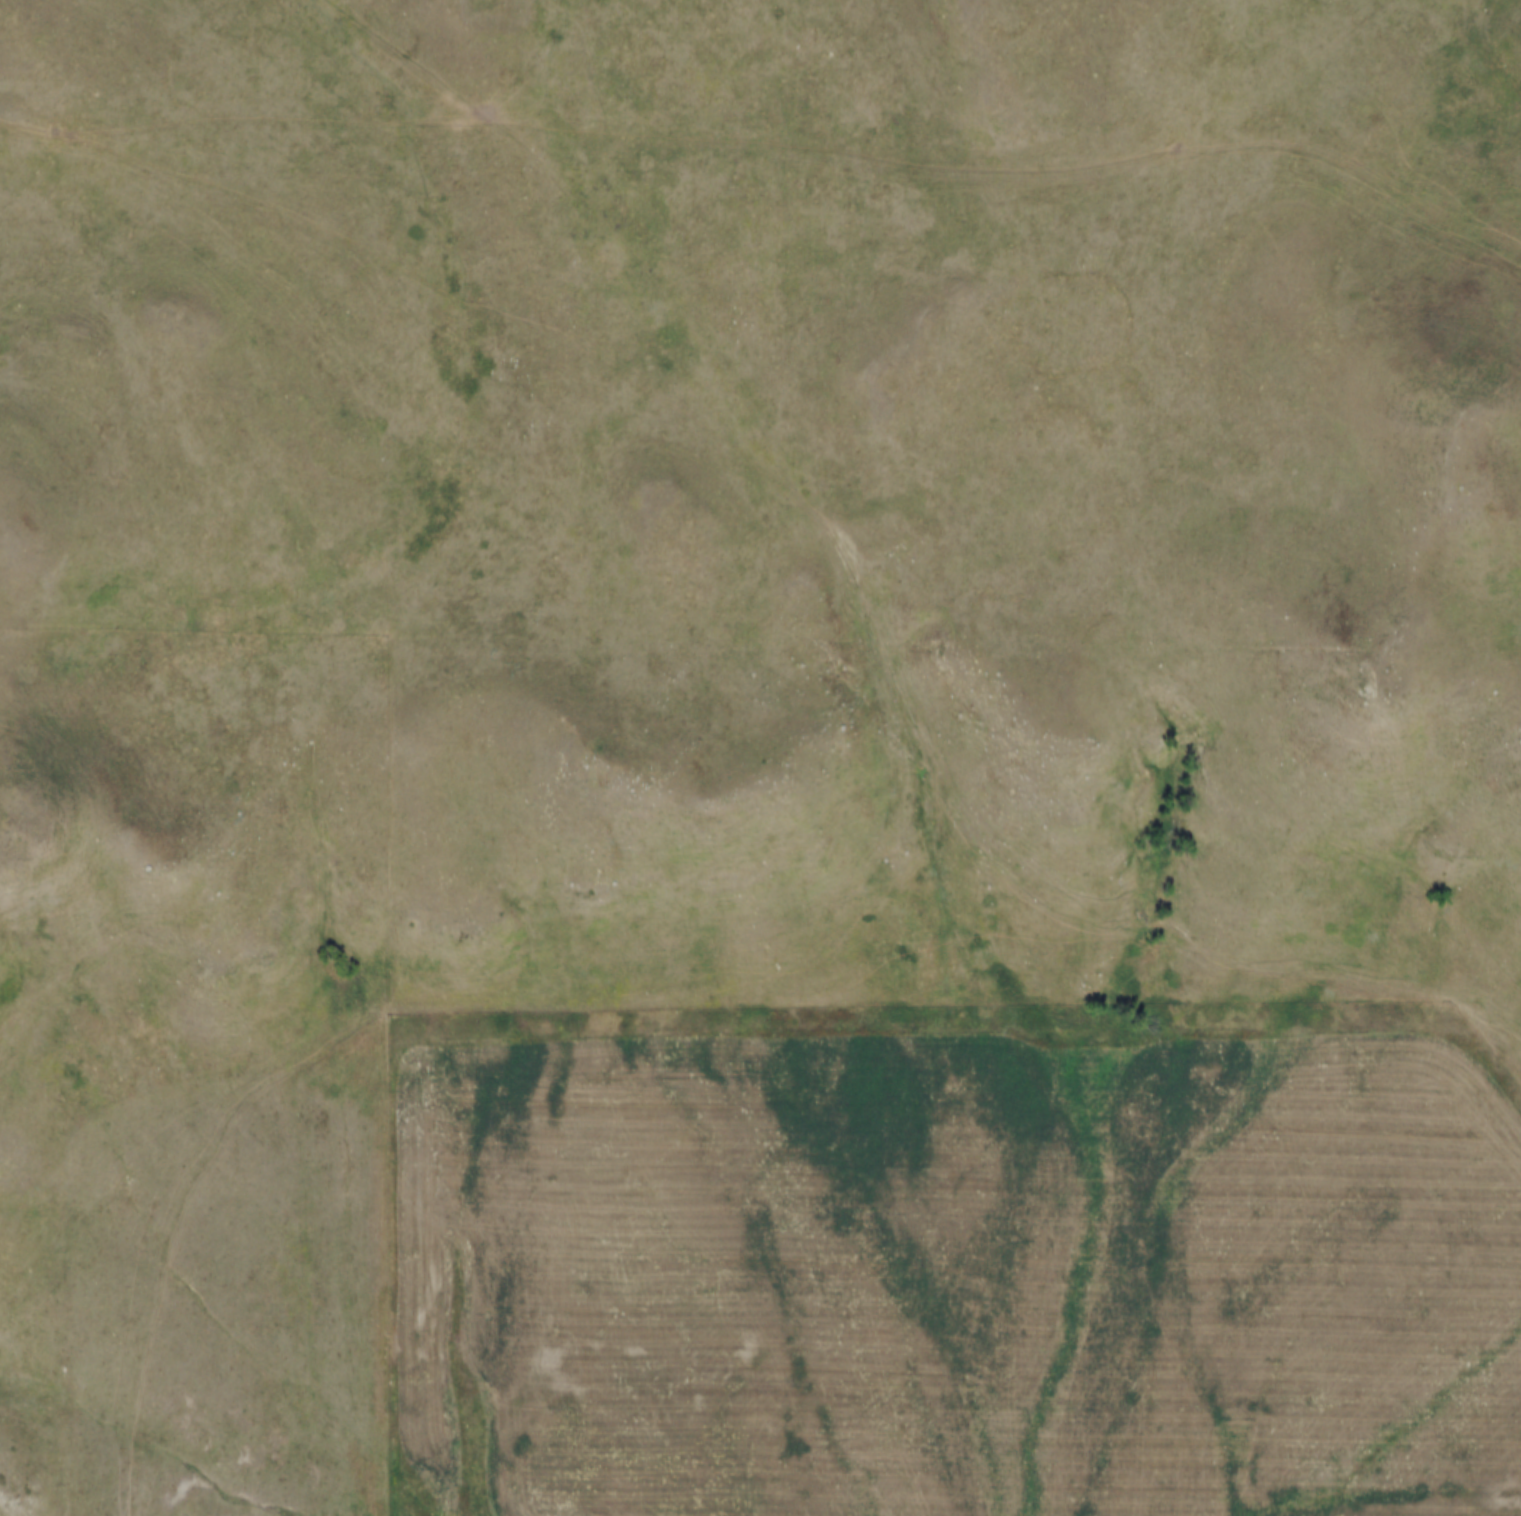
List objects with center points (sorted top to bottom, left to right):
road: (772, 152)
road: (308, 229)
road: (1412, 997)

